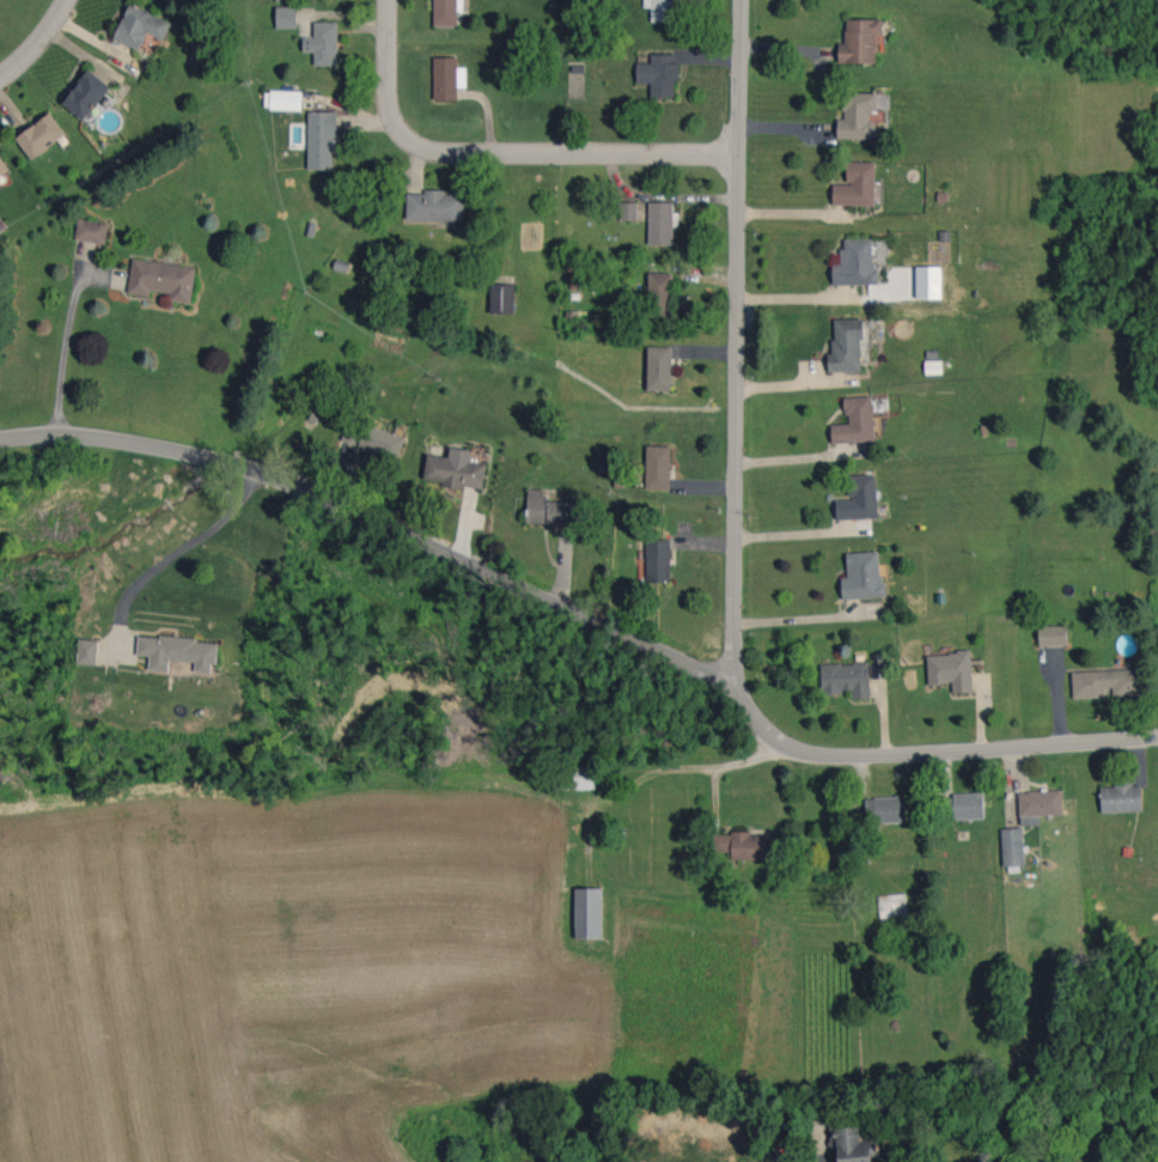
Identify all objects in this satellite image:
building: (662, 10)
building: (446, 12)
building: (287, 17)
building: (140, 26)
building: (860, 41)
road: (38, 43)
building: (323, 43)
building: (659, 74)
building: (447, 78)
building: (86, 93)
building: (282, 99)
building: (858, 115)
building: (41, 135)
building: (322, 140)
road: (499, 154)
building: (2, 166)
building: (857, 184)
building: (435, 206)
building: (628, 211)
building: (662, 223)
building: (91, 231)
building: (855, 263)
building: (161, 279)
building: (930, 282)
building: (660, 293)
building: (501, 298)
road: (736, 343)
building: (846, 346)
road: (73, 347)
building: (659, 367)
building: (855, 421)
building: (372, 439)
building: (654, 468)
building: (455, 469)
building: (859, 498)
building: (549, 510)
road: (188, 545)
building: (658, 560)
building: (863, 576)
road: (584, 616)
road: (796, 617)
building: (1053, 635)
building: (87, 651)
building: (177, 652)
building: (951, 670)
building: (847, 679)
building: (1107, 682)
building: (574, 777)
building: (1122, 797)
building: (964, 805)
building: (1040, 805)
building: (886, 809)
building: (745, 845)
building: (1012, 846)
building: (892, 906)
building: (589, 912)
building: (851, 1144)

